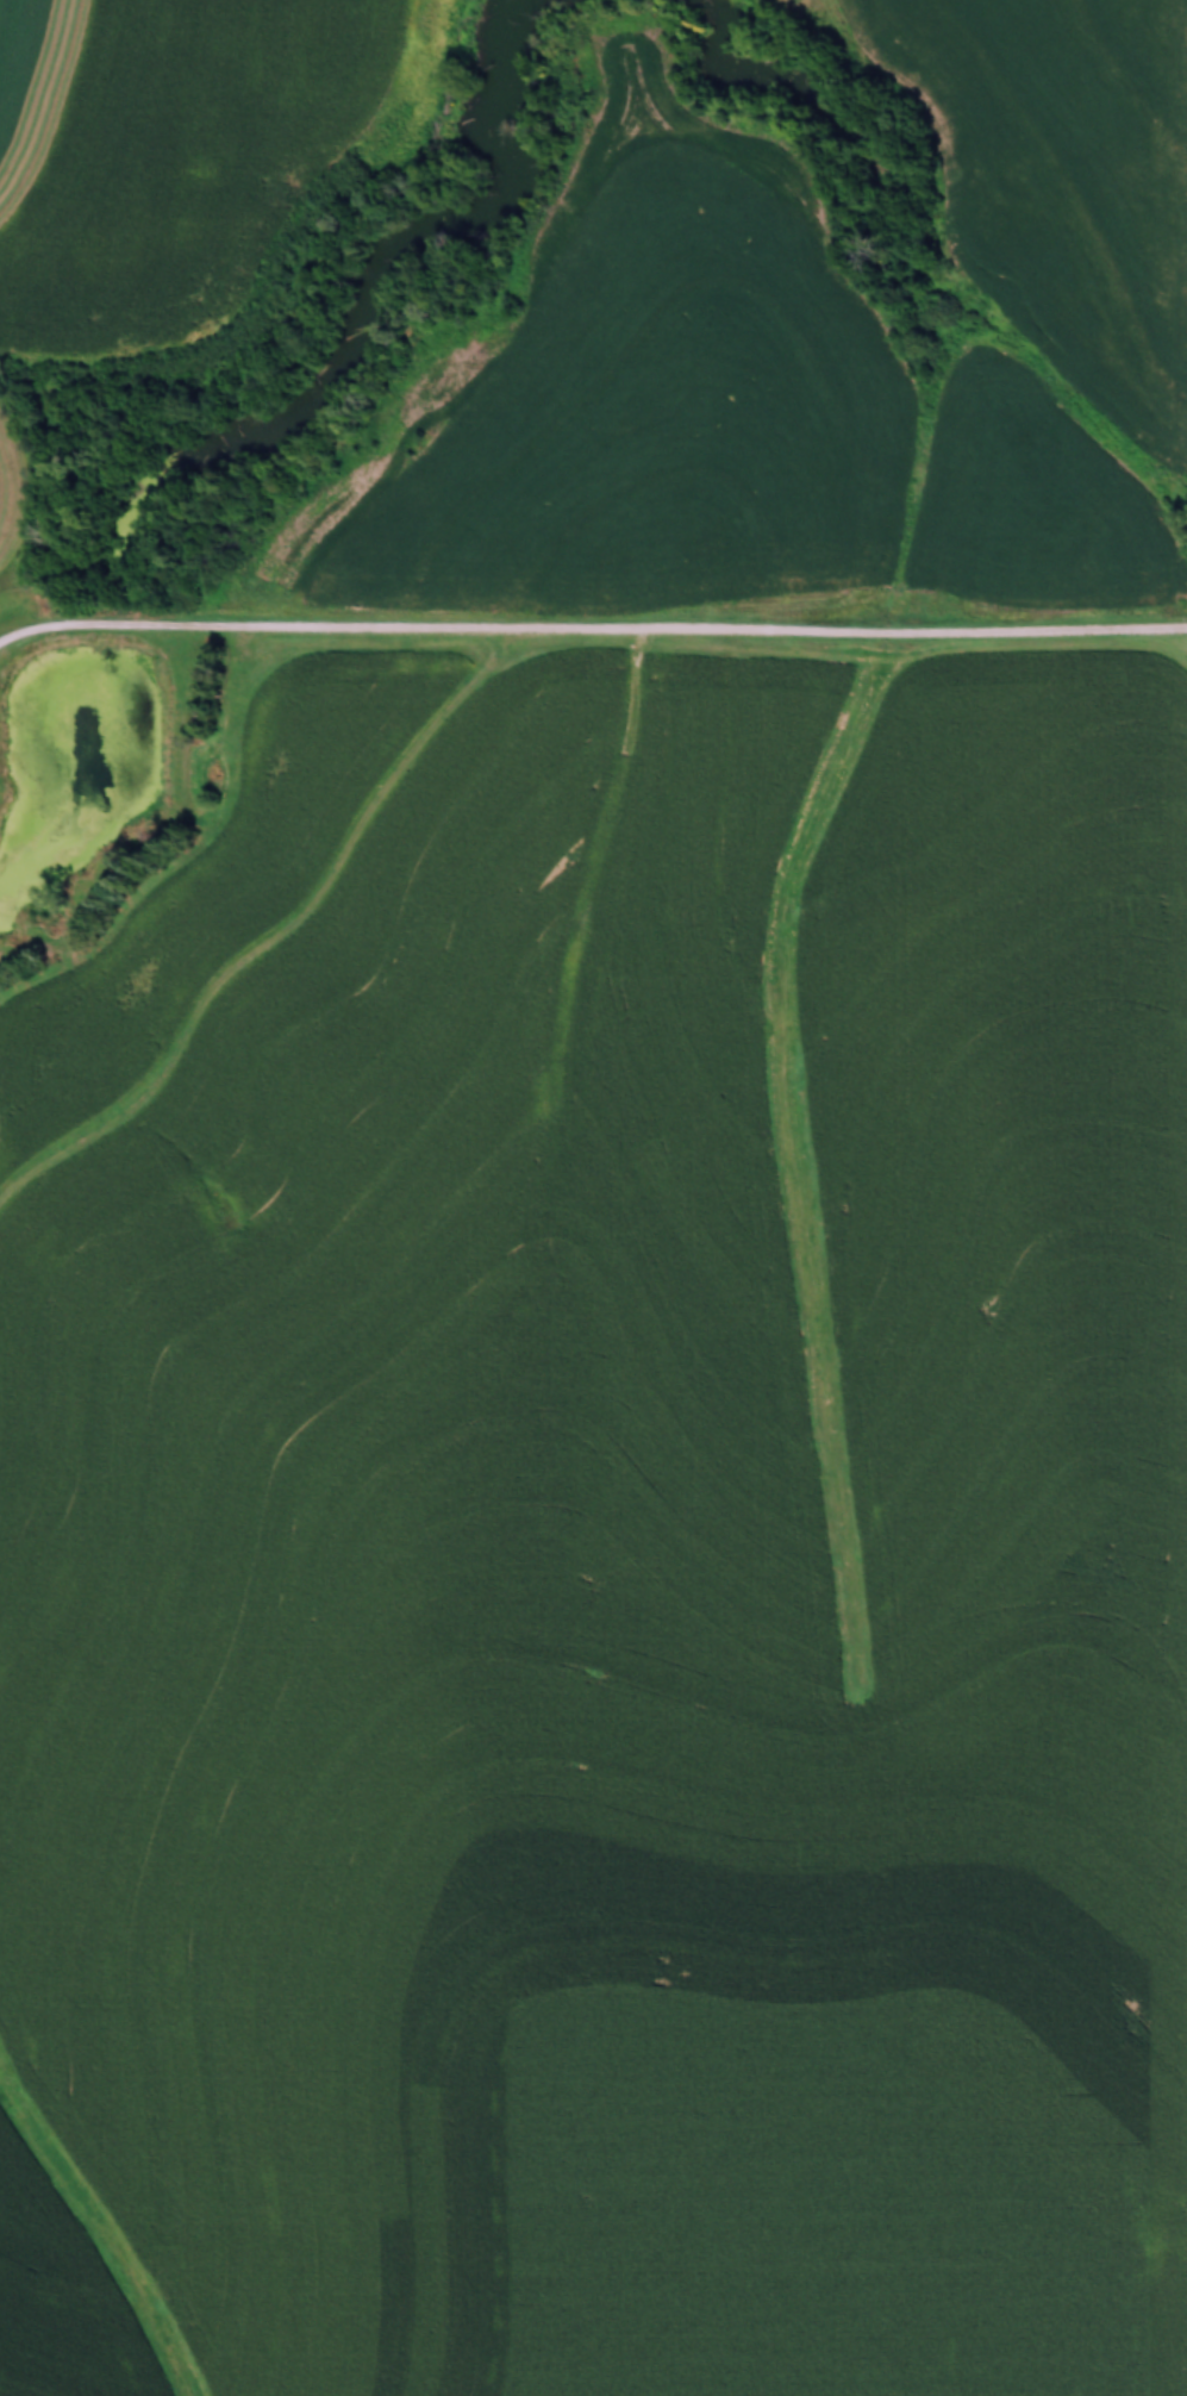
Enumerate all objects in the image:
road: (592, 631)

